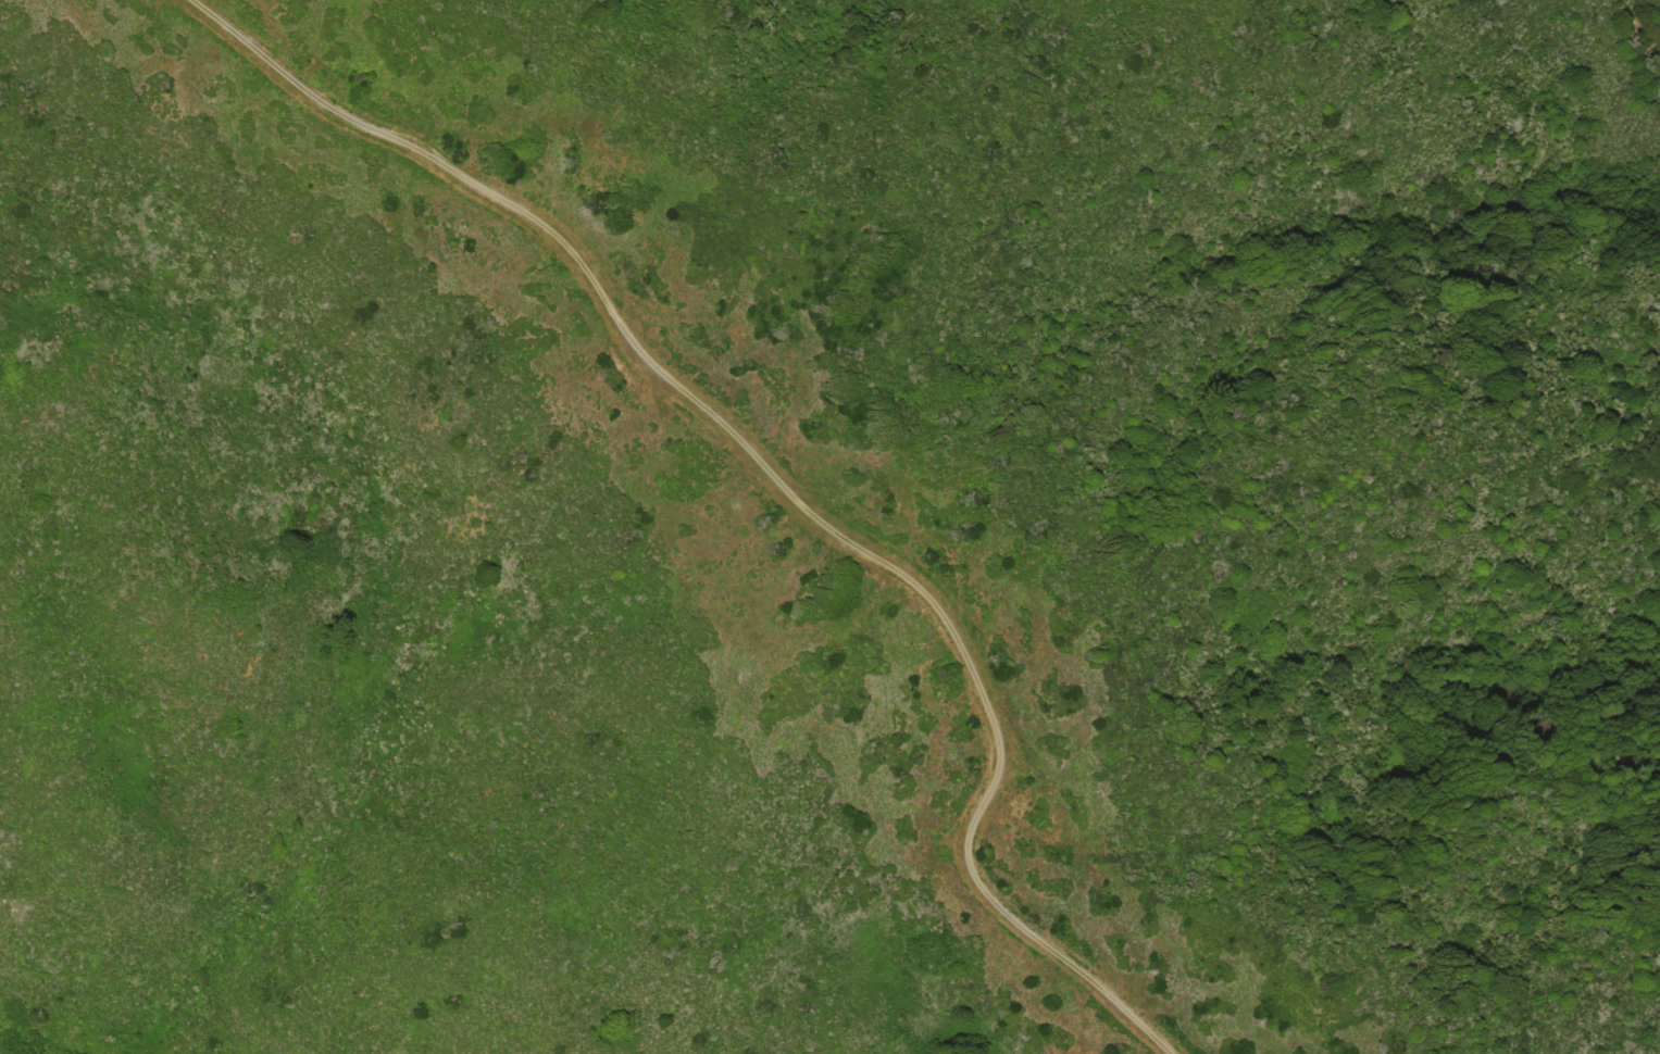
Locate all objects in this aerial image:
road: (783, 484)

